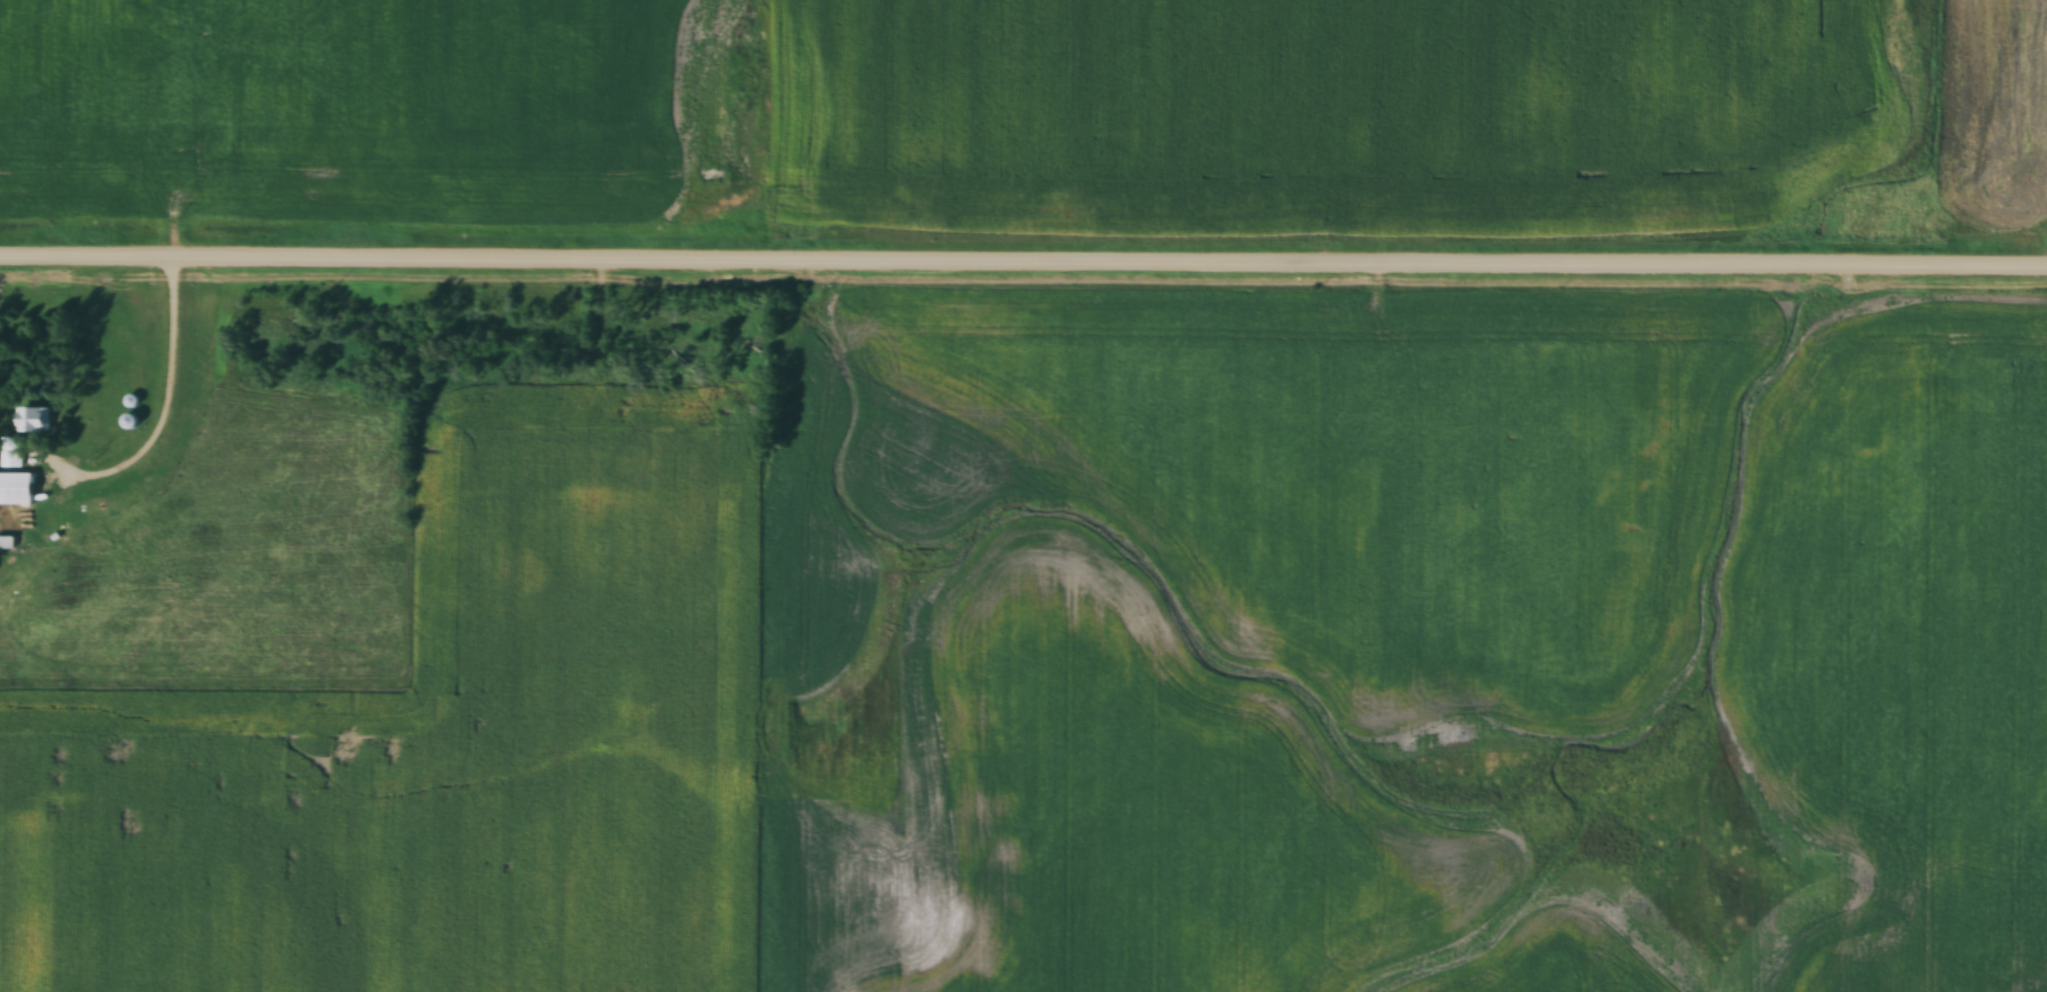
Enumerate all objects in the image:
road: (1023, 257)
building: (33, 420)
building: (11, 458)
building: (16, 489)
building: (100, 512)
building: (6, 543)

